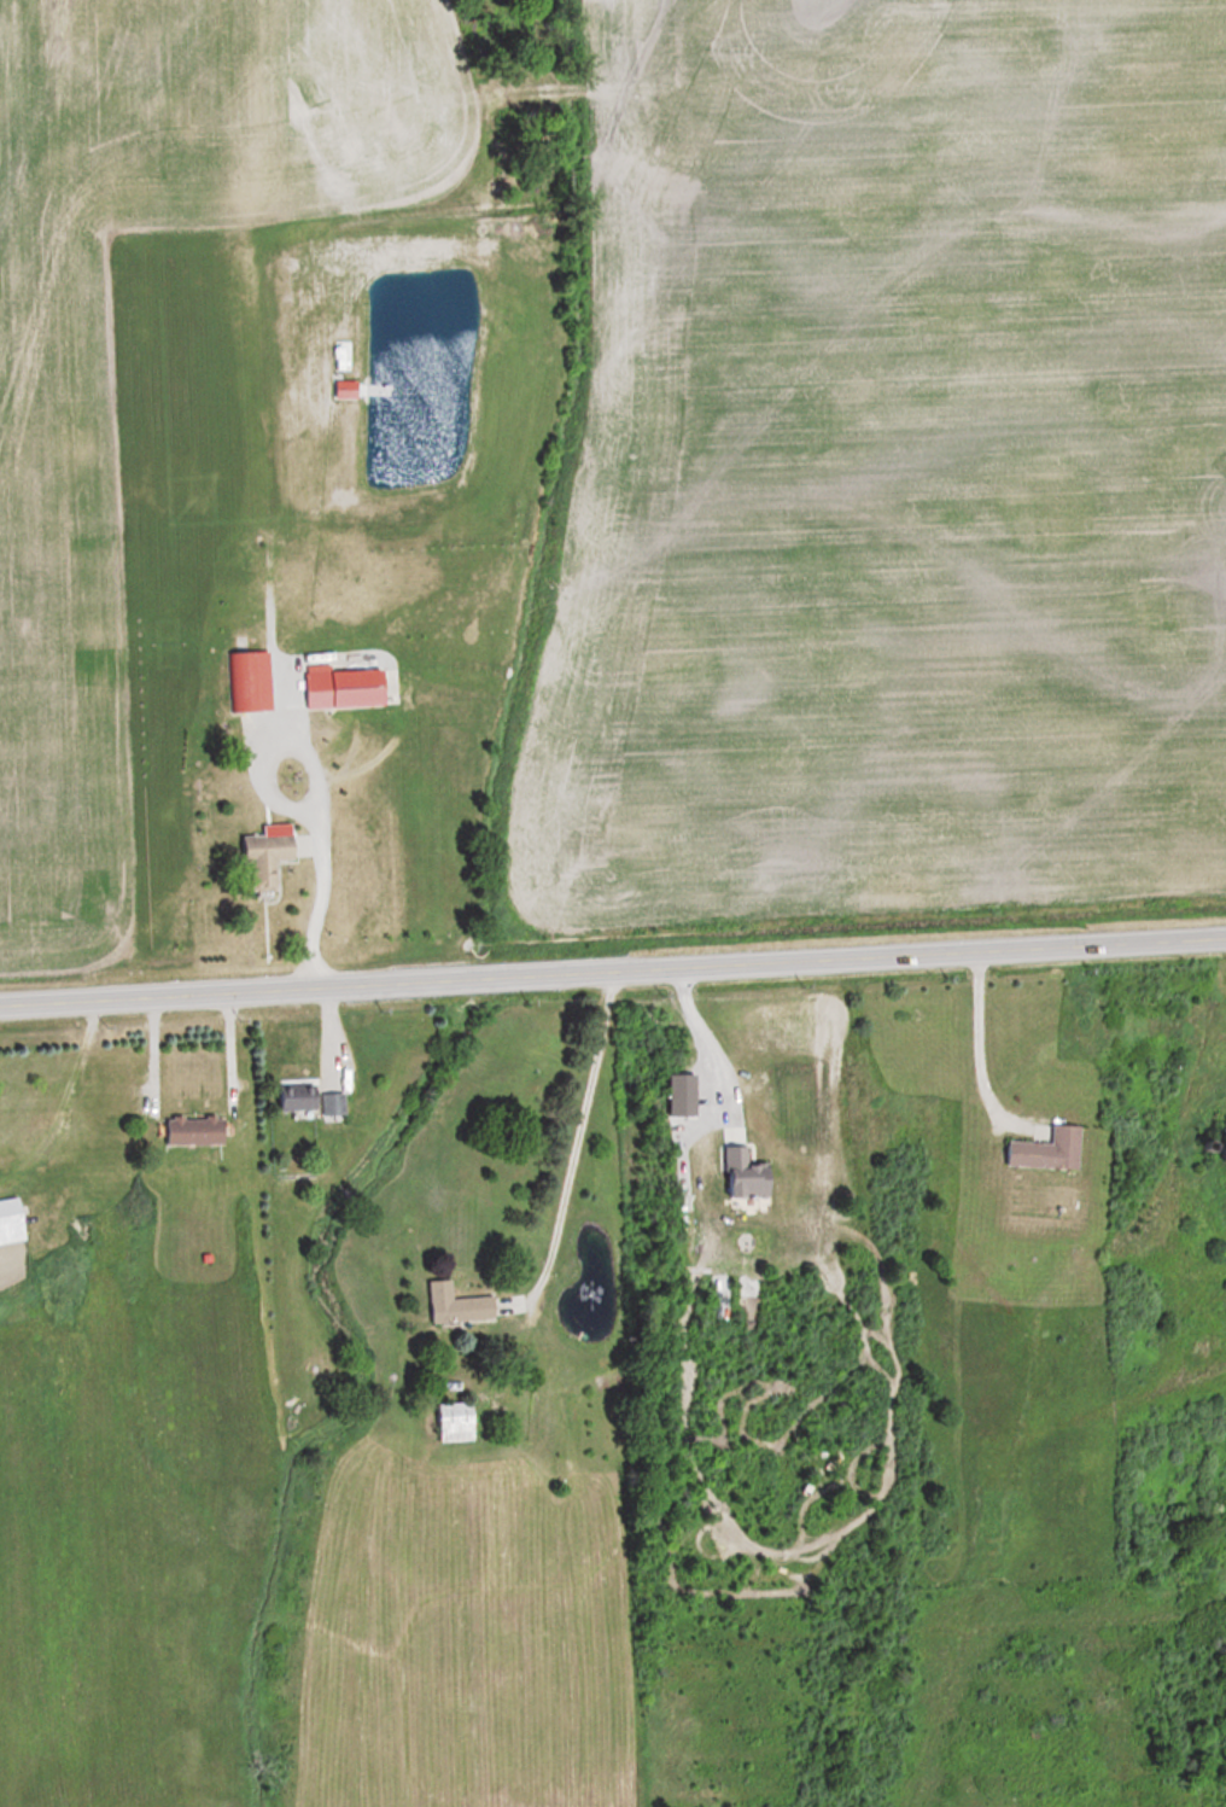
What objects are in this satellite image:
building: (244, 682)
building: (317, 683)
building: (379, 690)
building: (269, 857)
road: (316, 878)
road: (612, 968)
road: (708, 1037)
road: (979, 1039)
building: (293, 1095)
building: (326, 1103)
building: (199, 1130)
road: (573, 1132)
building: (1214, 1143)
building: (1040, 1150)
building: (737, 1174)
building: (13, 1222)
building: (453, 1304)
building: (450, 1421)

